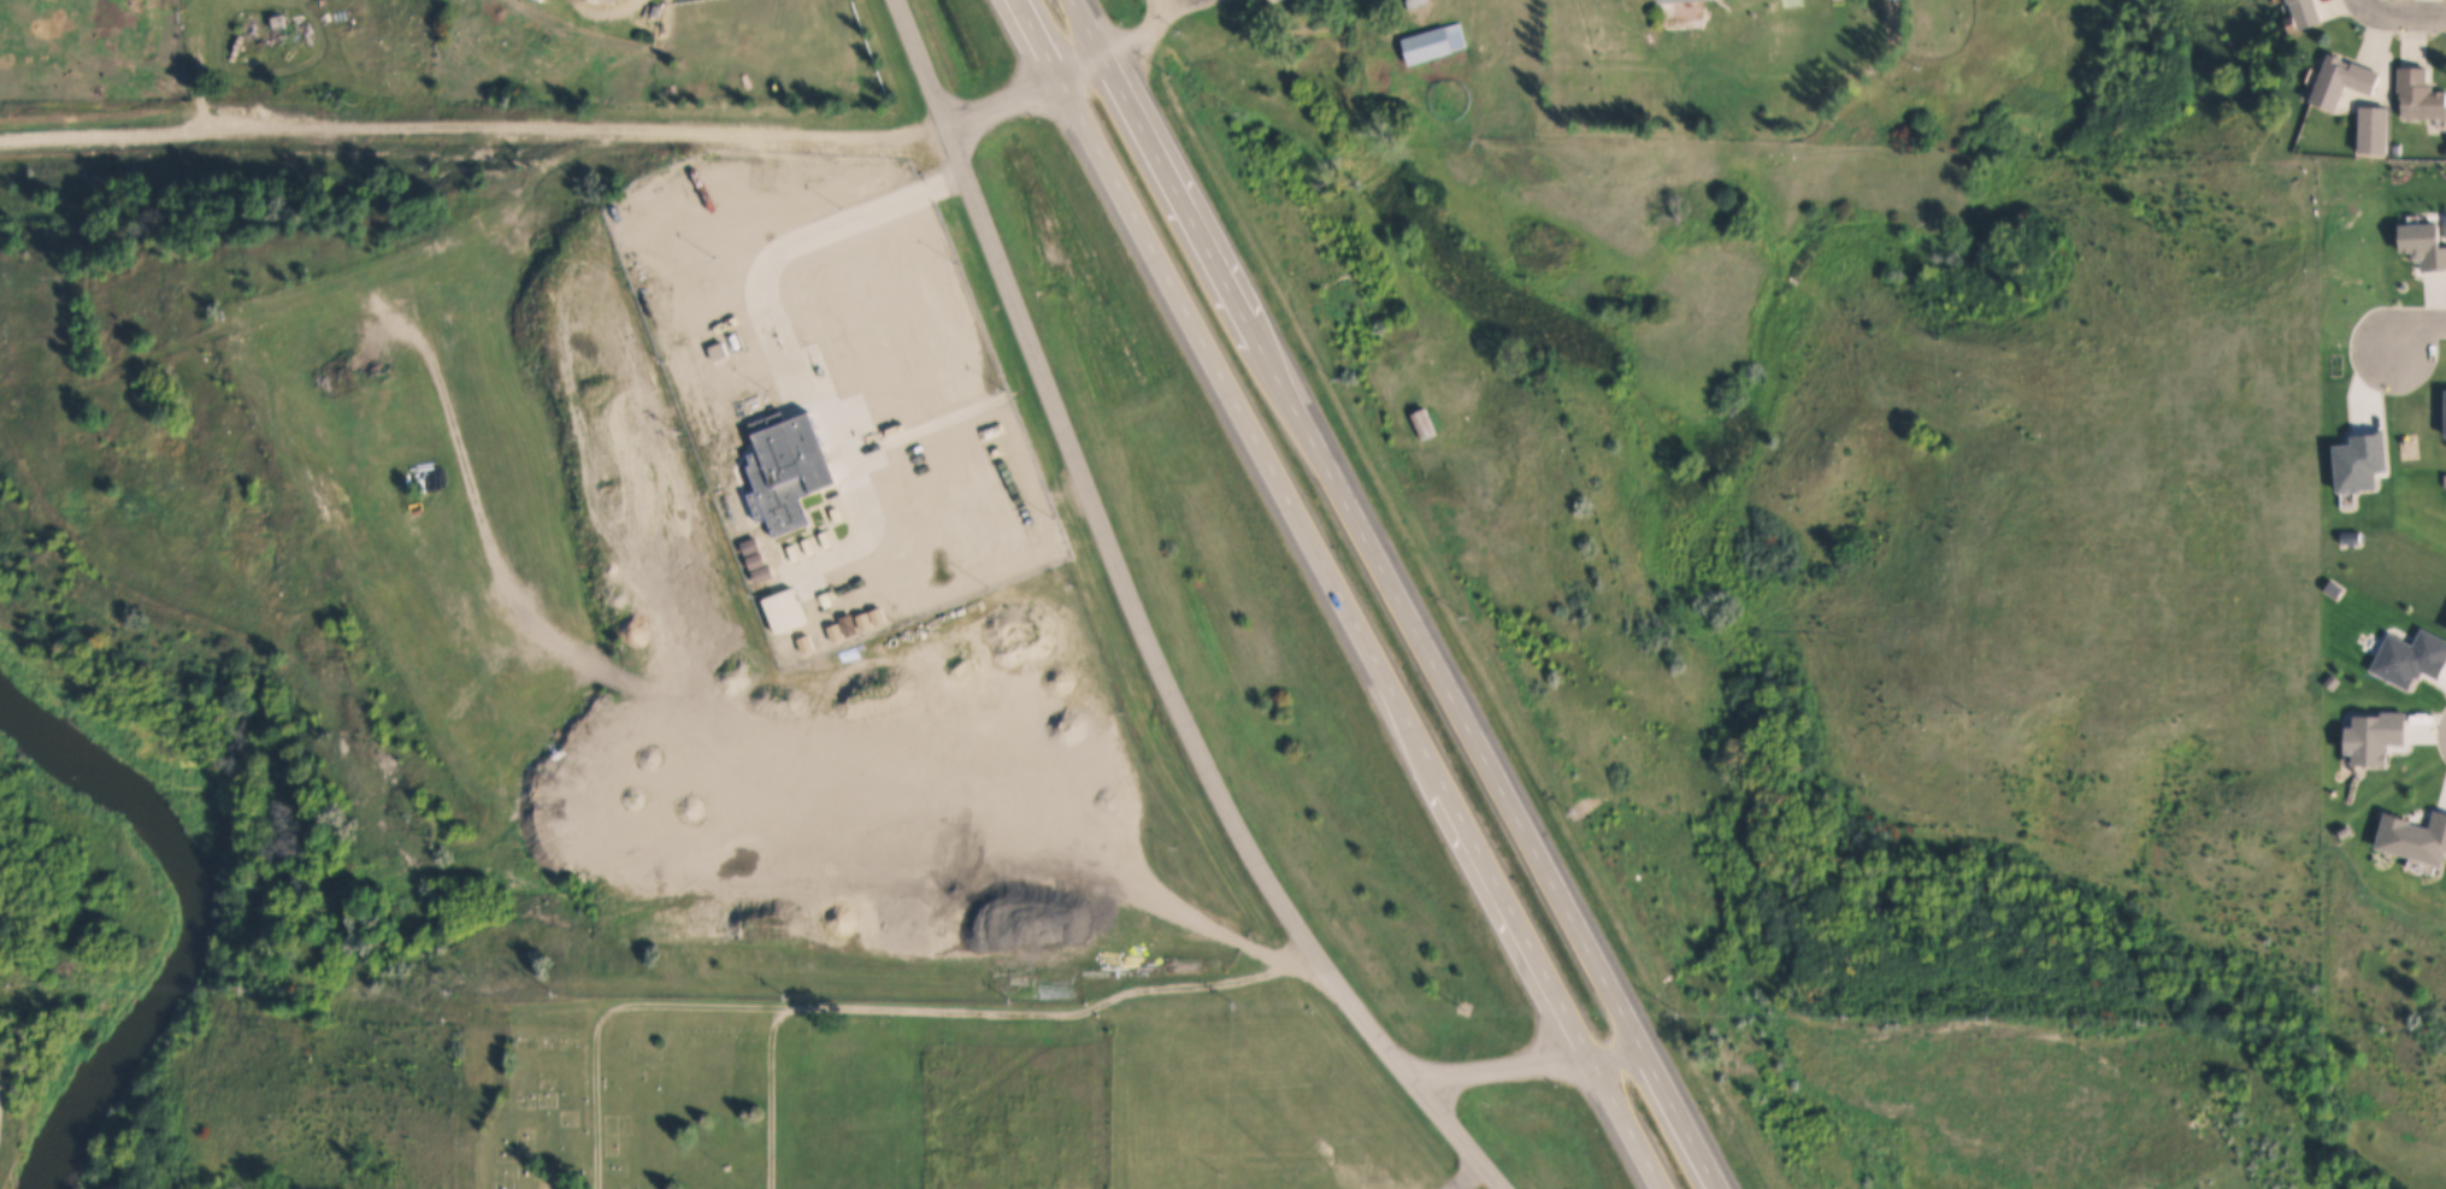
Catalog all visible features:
building: (1678, 0)
building: (1411, 4)
road: (2374, 5)
building: (2306, 13)
road: (2412, 16)
building: (1428, 45)
road: (199, 67)
building: (2342, 80)
building: (2420, 95)
building: (2375, 129)
road: (608, 134)
building: (2395, 151)
road: (772, 263)
road: (2409, 332)
building: (1430, 423)
road: (916, 431)
building: (777, 476)
road: (1041, 485)
building: (752, 545)
building: (756, 559)
building: (765, 572)
road: (1399, 591)
road: (1345, 594)
building: (786, 608)
building: (879, 614)
building: (865, 619)
building: (849, 624)
road: (1143, 626)
building: (836, 631)
building: (821, 636)
building: (807, 642)
quarry: (850, 785)
river: (187, 922)
road: (1206, 978)
road: (764, 1003)
road: (1528, 1060)
park: (785, 1093)
road: (1101, 1095)
road: (772, 1096)

